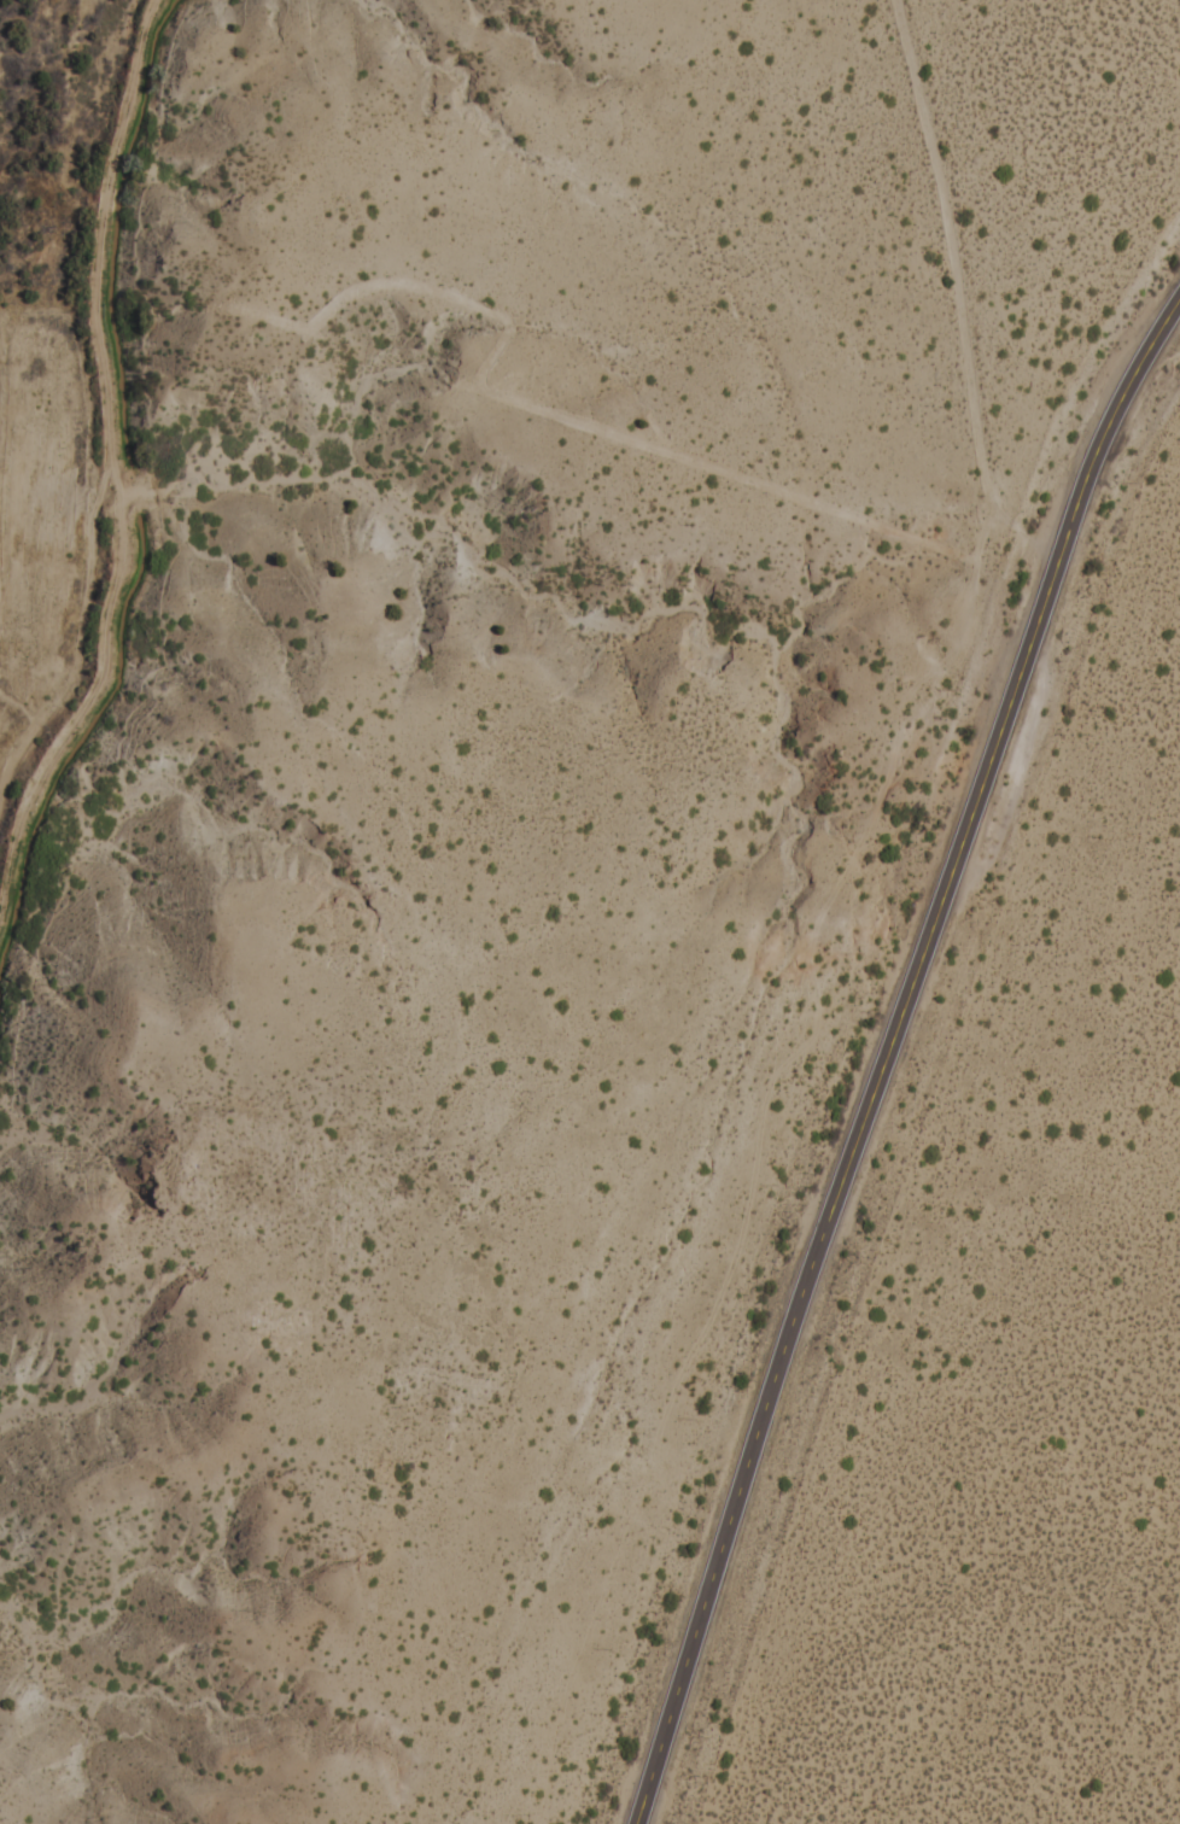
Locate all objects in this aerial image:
road: (889, 1052)

